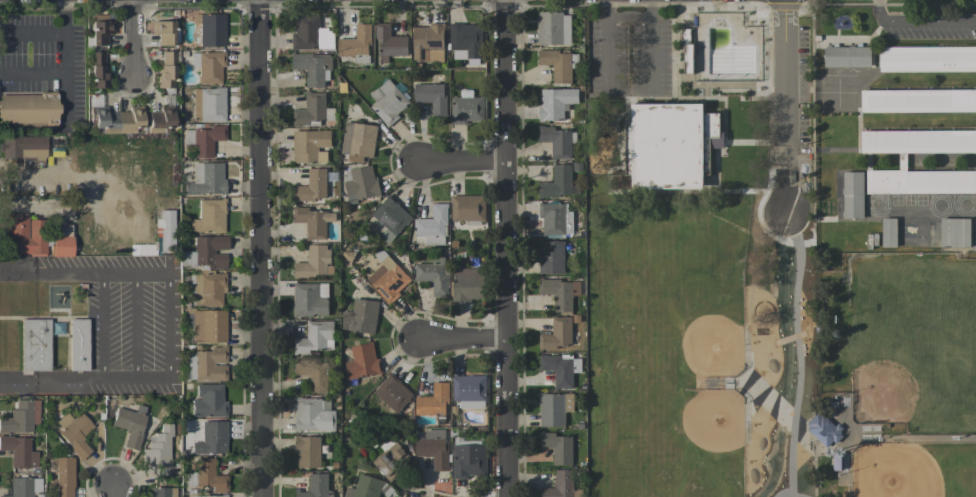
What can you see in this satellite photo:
road: (628, 16)
road: (919, 21)
building: (553, 29)
building: (100, 30)
building: (212, 30)
building: (163, 32)
road: (34, 33)
building: (311, 34)
road: (68, 35)
road: (132, 36)
building: (466, 39)
building: (426, 41)
building: (356, 42)
building: (390, 42)
road: (606, 44)
road: (651, 45)
building: (847, 57)
building: (927, 59)
building: (557, 65)
building: (210, 67)
building: (313, 69)
building: (97, 70)
building: (166, 70)
road: (34, 72)
road: (67, 93)
building: (431, 98)
building: (918, 101)
building: (210, 103)
building: (388, 103)
building: (555, 103)
building: (467, 108)
building: (29, 109)
building: (312, 110)
building: (118, 119)
building: (160, 119)
building: (204, 139)
building: (358, 139)
building: (557, 141)
building: (670, 145)
building: (310, 146)
building: (25, 149)
building: (923, 161)
road: (461, 163)
building: (206, 179)
building: (559, 183)
building: (360, 184)
building: (312, 186)
building: (852, 195)
building: (468, 208)
building: (209, 216)
building: (554, 218)
building: (390, 219)
building: (313, 222)
building: (432, 226)
building: (165, 230)
building: (888, 232)
building: (954, 232)
building: (24, 234)
building: (61, 240)
road: (260, 248)
road: (506, 248)
road: (787, 248)
building: (210, 251)
building: (551, 257)
building: (188, 258)
building: (315, 262)
building: (433, 274)
building: (387, 277)
building: (468, 284)
building: (208, 288)
building: (558, 293)
park: (747, 296)
building: (310, 300)
building: (360, 317)
road: (133, 325)
building: (209, 326)
building: (57, 328)
building: (557, 334)
building: (315, 338)
road: (459, 340)
building: (77, 344)
building: (35, 345)
building: (362, 362)
building: (210, 364)
building: (189, 366)
building: (558, 369)
building: (313, 374)
building: (469, 391)
building: (392, 393)
building: (208, 401)
building: (433, 401)
building: (554, 409)
building: (314, 415)
building: (21, 417)
building: (130, 426)
building: (74, 432)
building: (211, 438)
building: (158, 447)
building: (434, 448)
building: (557, 448)
building: (19, 451)
building: (309, 451)
building: (391, 461)
building: (468, 461)
building: (209, 475)
building: (64, 477)
building: (560, 485)
building: (24, 487)
building: (317, 487)
building: (365, 487)
road: (113, 490)
building: (163, 492)
building: (207, 496)

